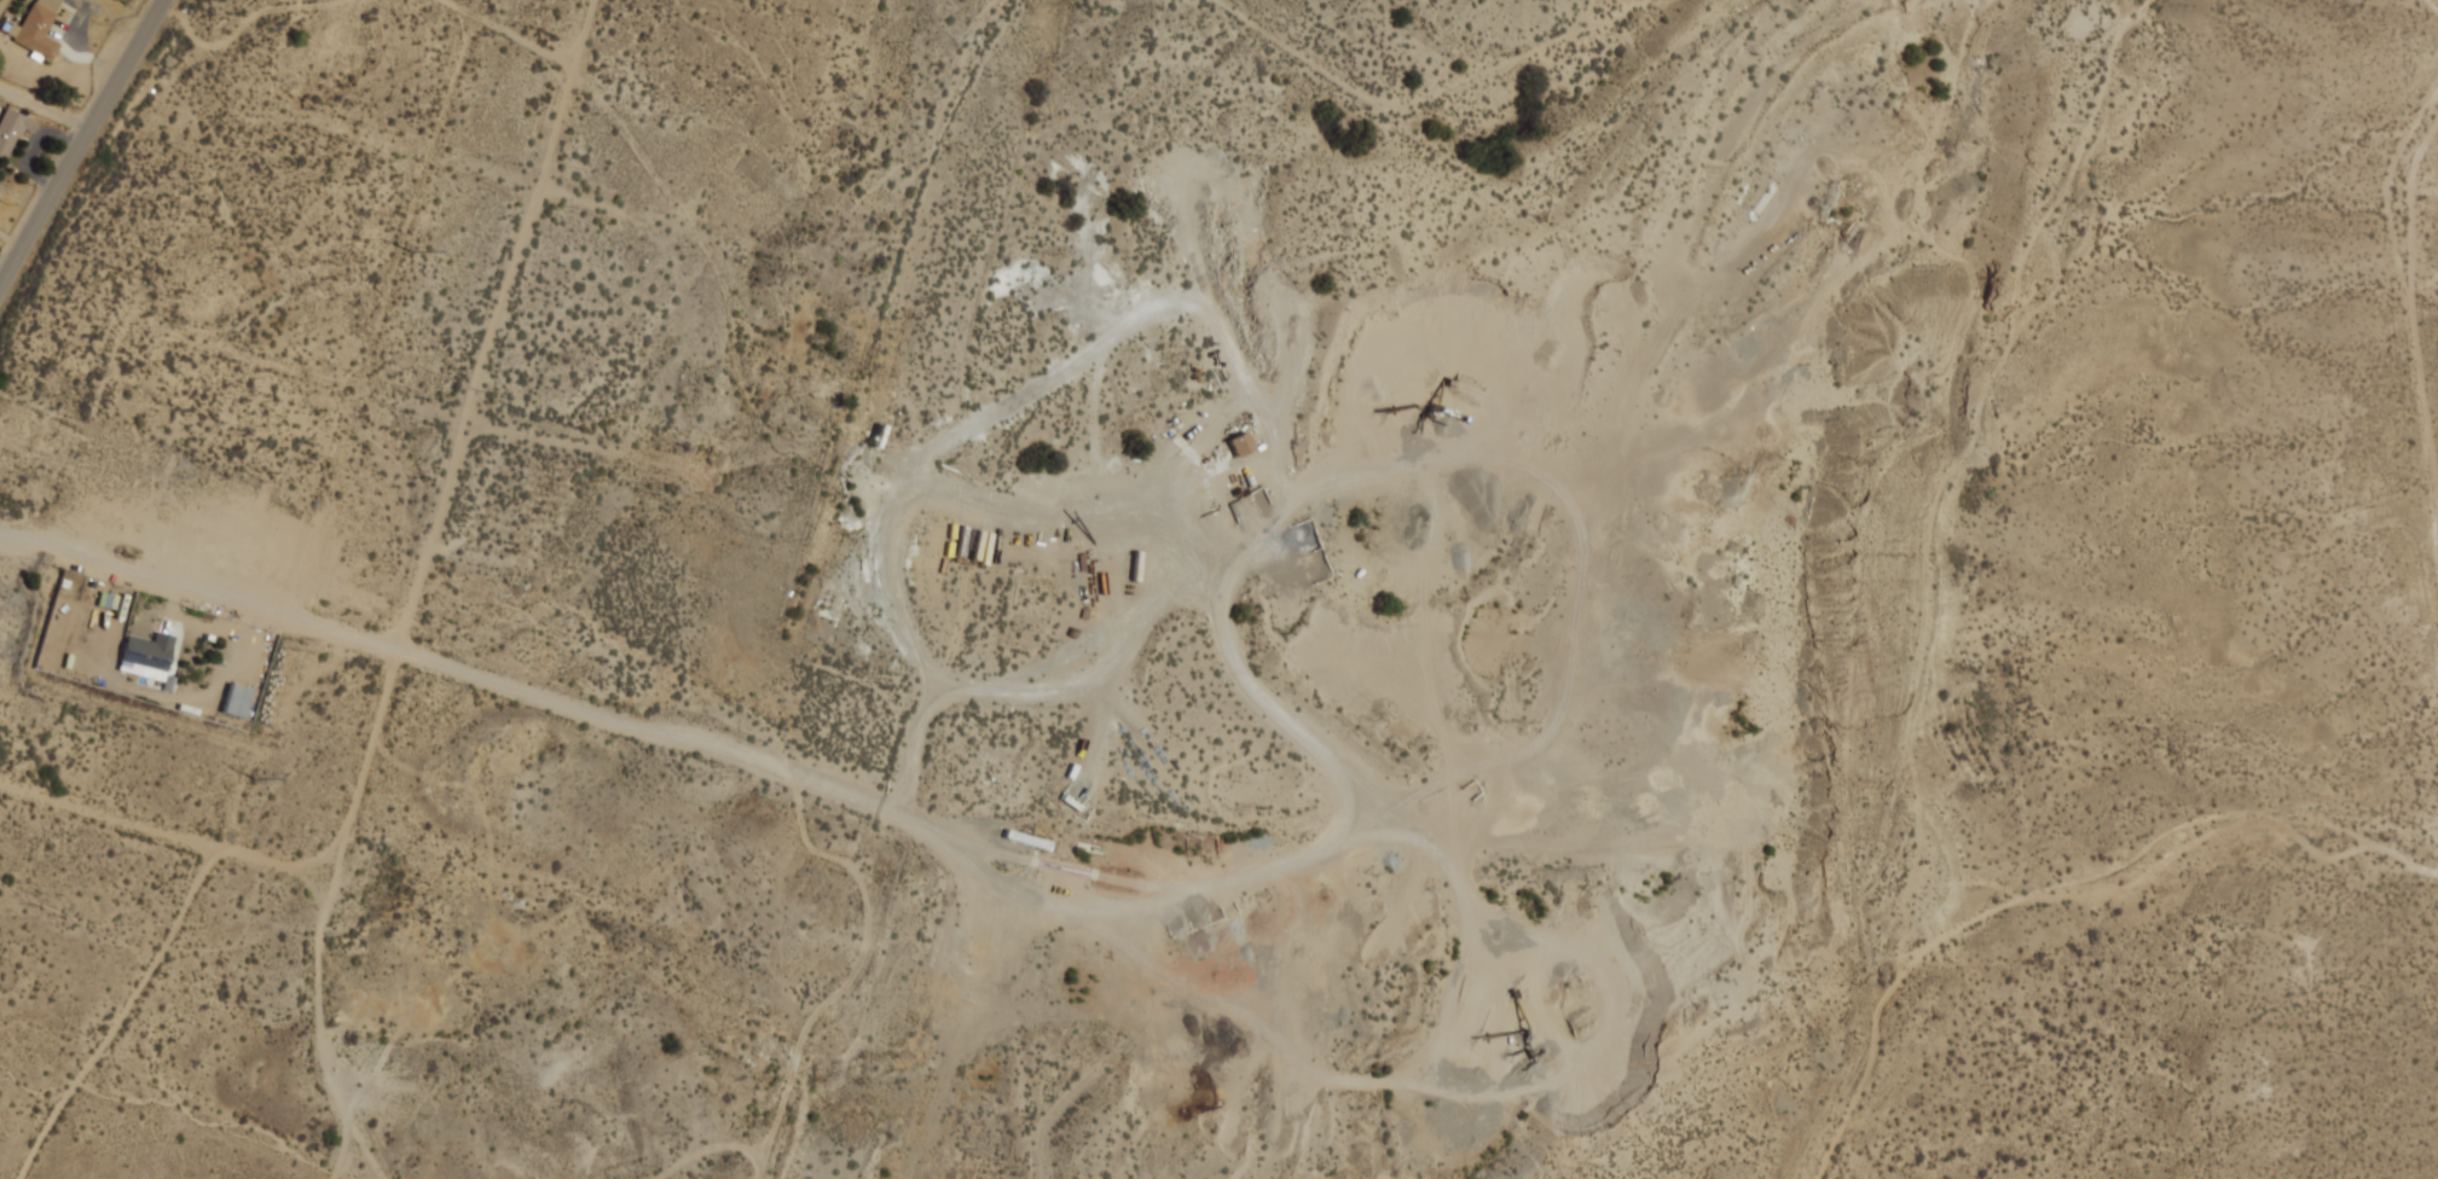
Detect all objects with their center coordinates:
building: (37, 29)
road: (46, 108)
building: (12, 132)
road: (81, 145)
road: (6, 263)
building: (1240, 443)
road: (197, 588)
road: (564, 606)
quarry: (1371, 610)
building: (147, 656)
building: (234, 699)
road: (367, 747)
road: (180, 908)

